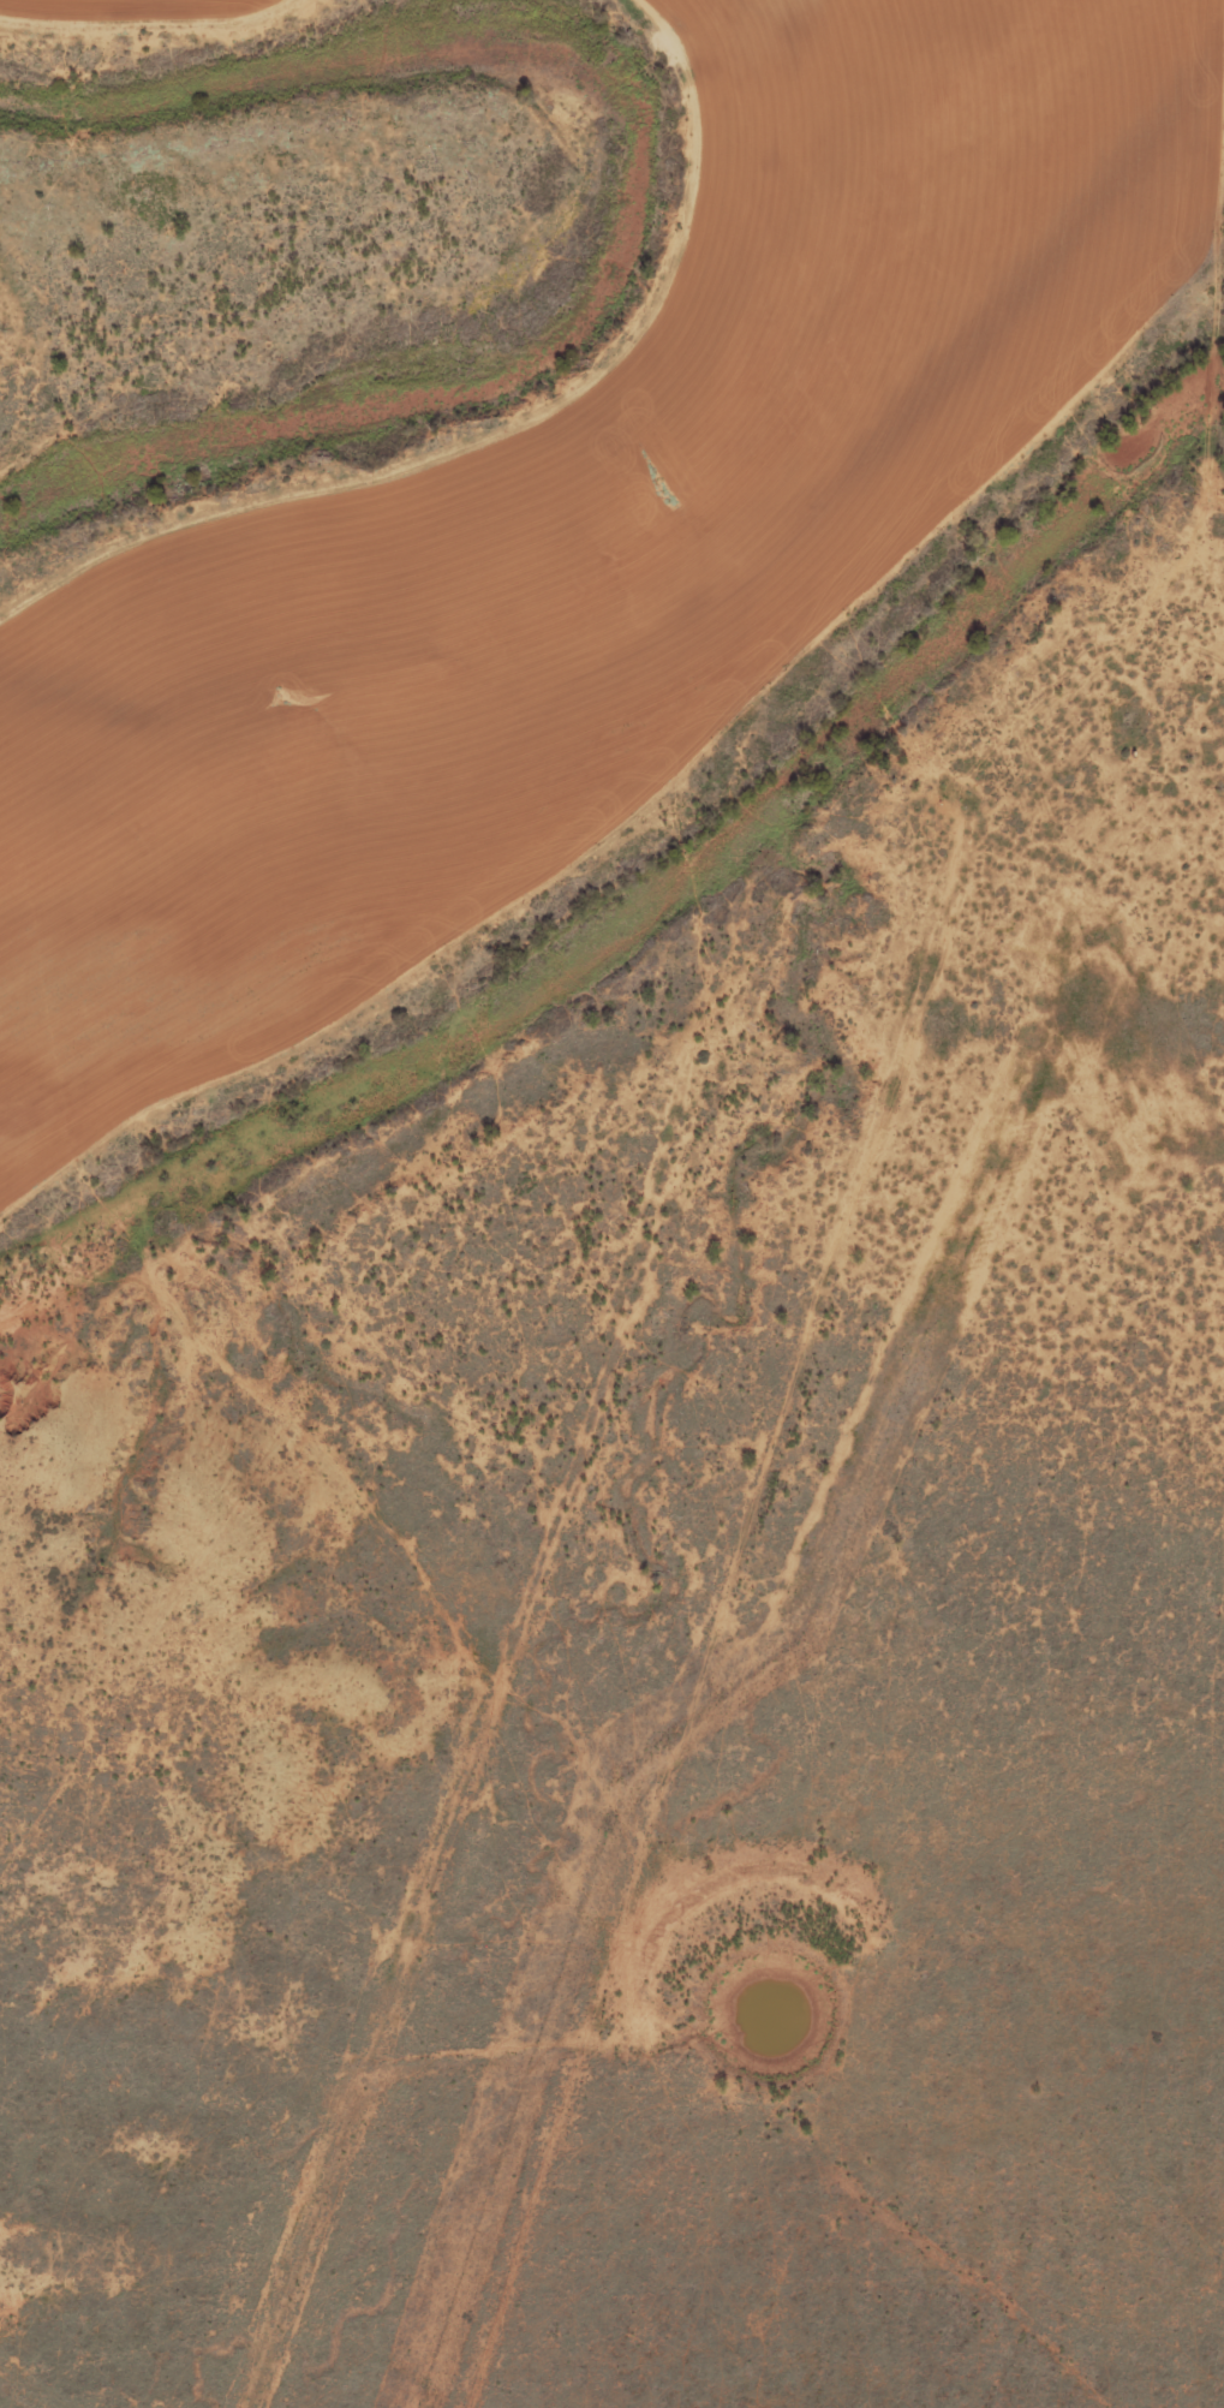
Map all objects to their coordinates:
river: (638, 204)
river: (663, 899)

